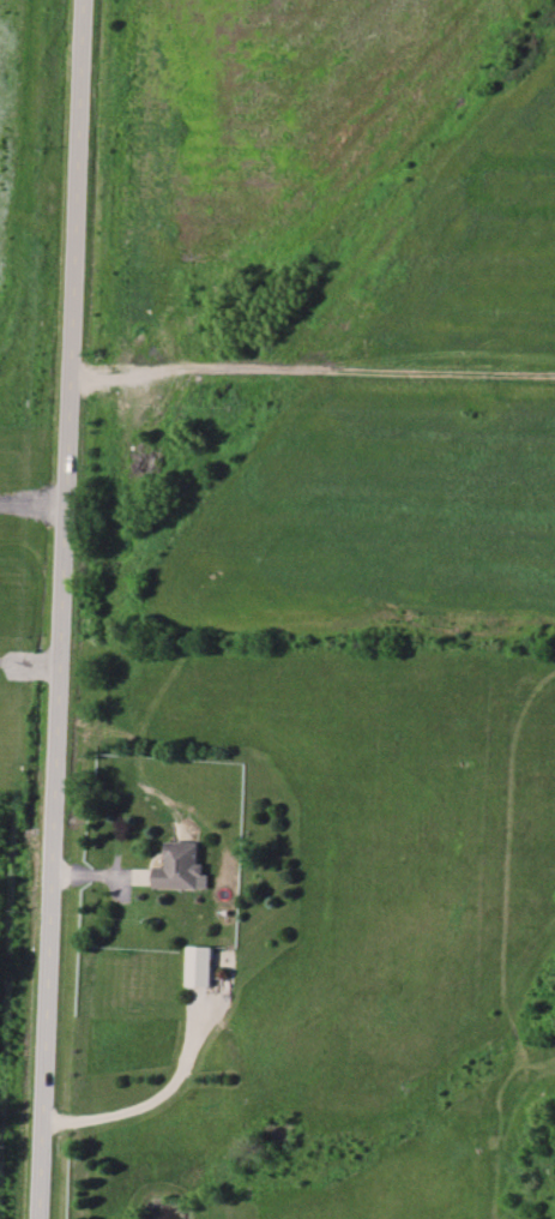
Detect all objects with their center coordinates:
road: (313, 356)
road: (32, 500)
road: (62, 608)
road: (30, 649)
building: (183, 866)
building: (203, 966)
road: (146, 1098)

